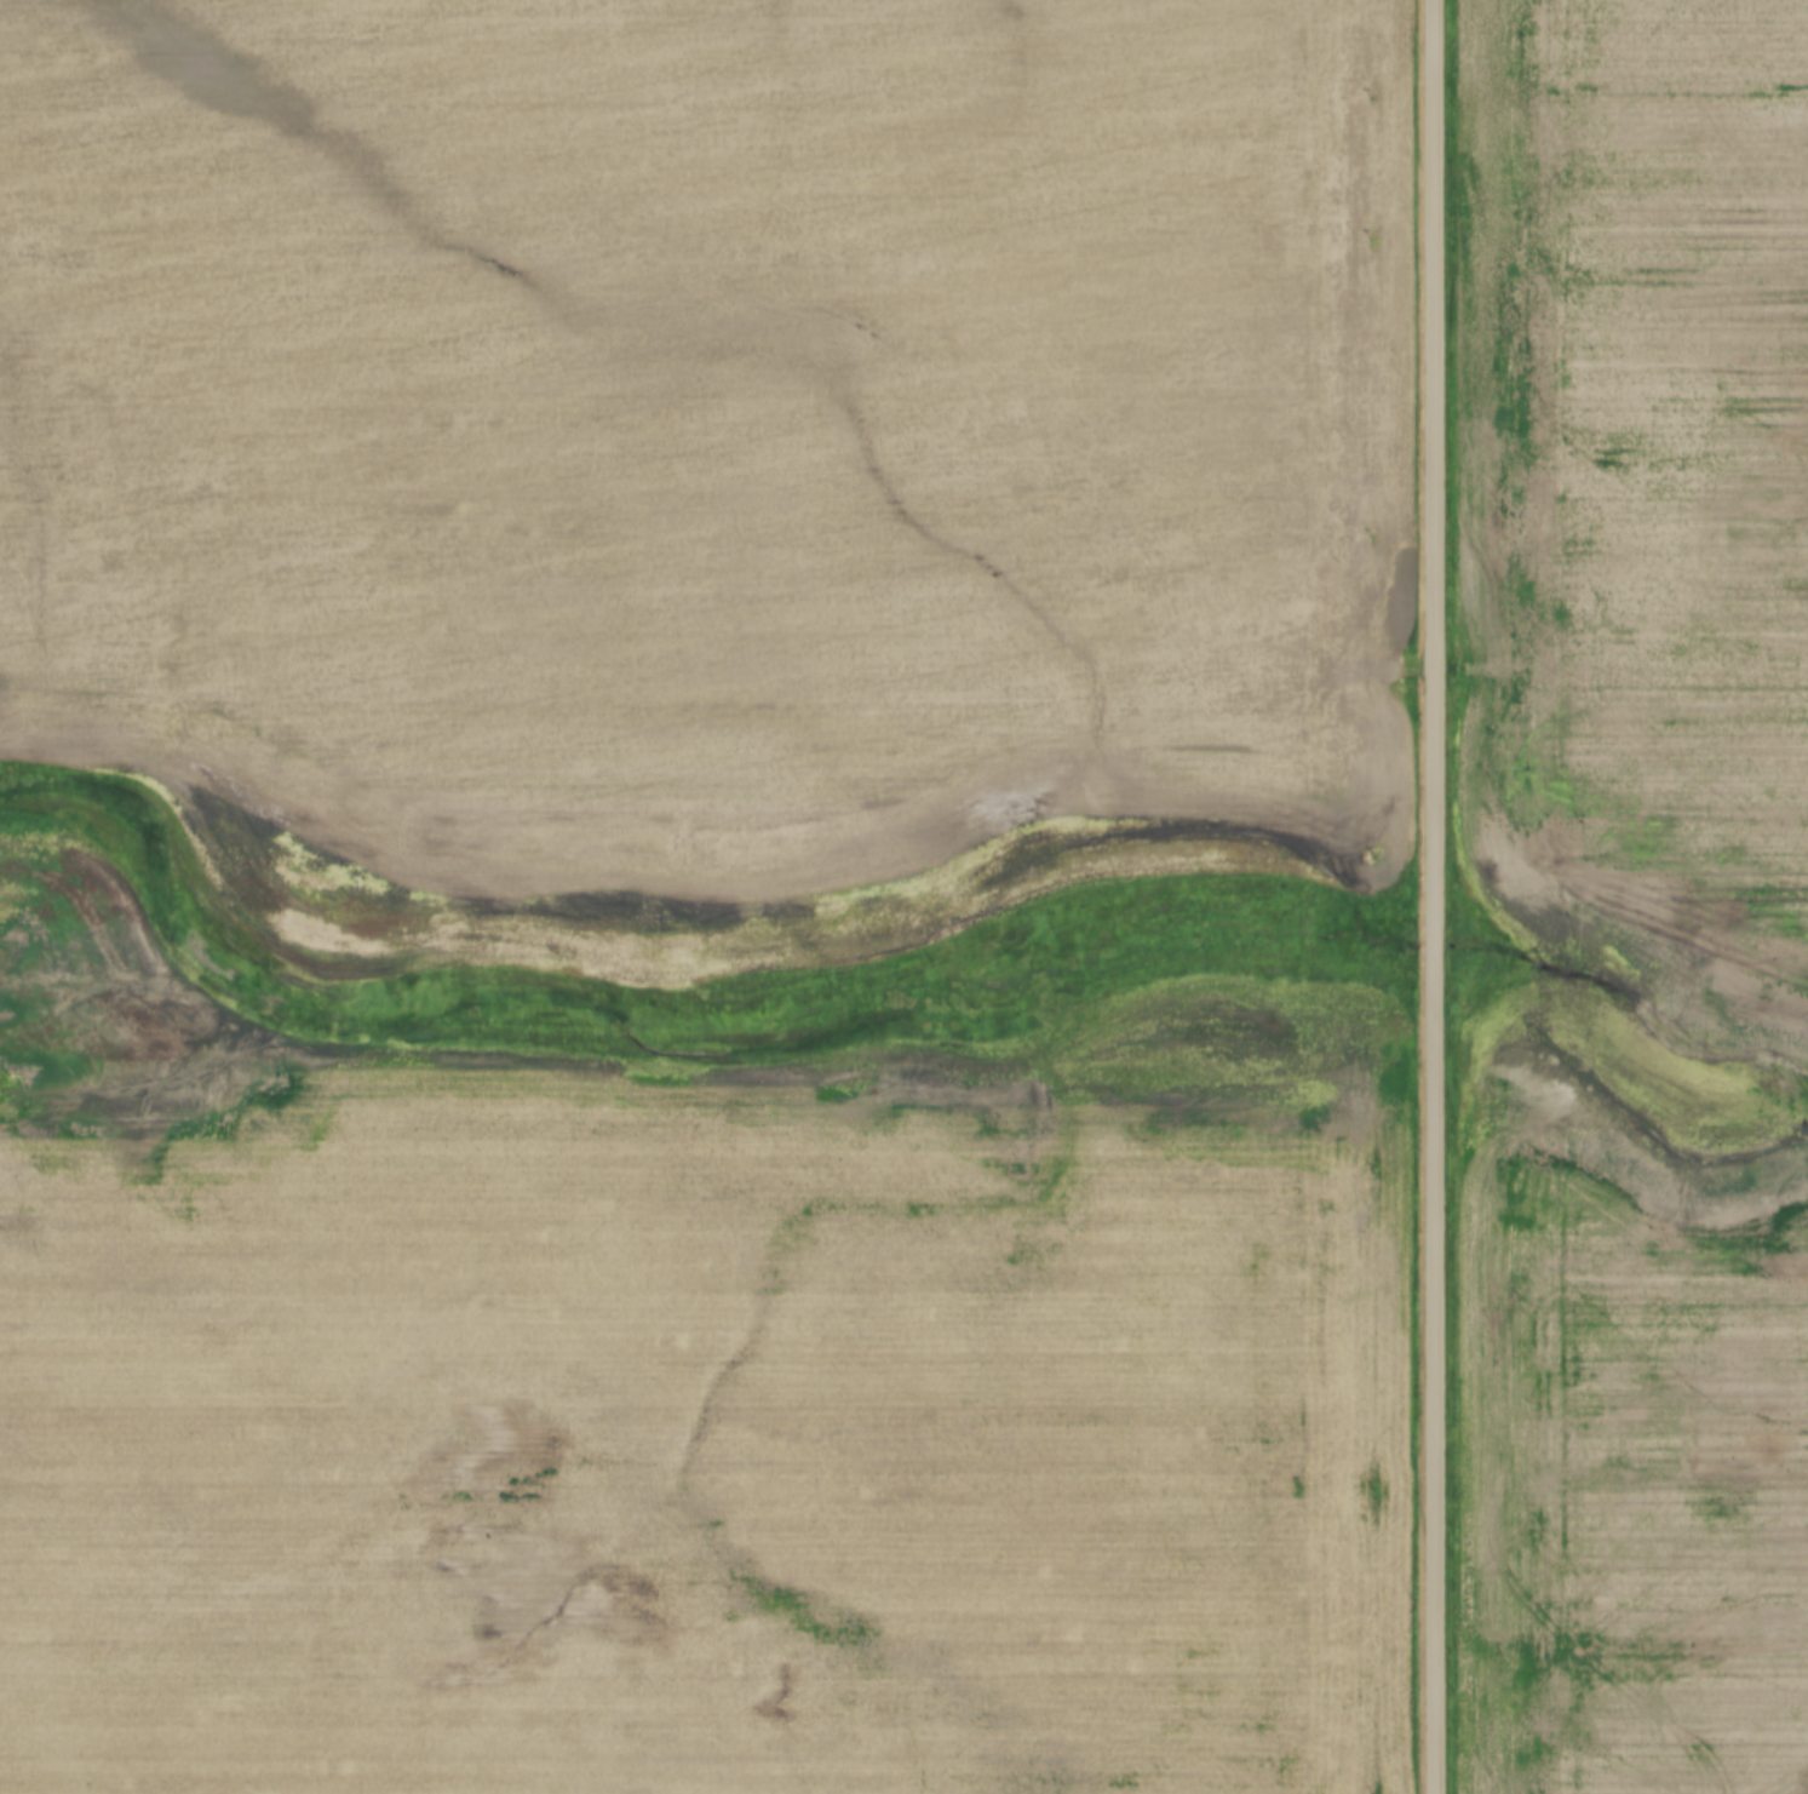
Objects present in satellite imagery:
road: (1443, 896)

